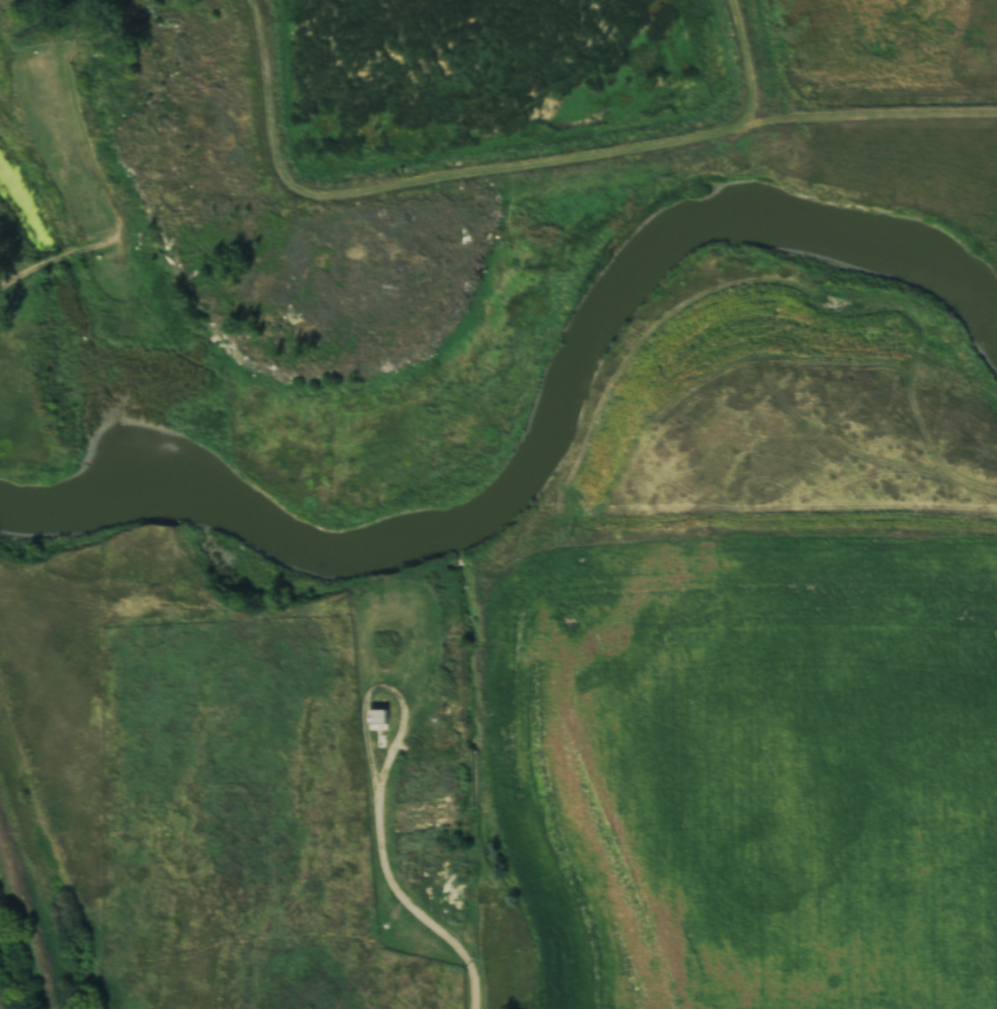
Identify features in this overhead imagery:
road: (268, 97)
river: (539, 445)
building: (376, 719)
road: (473, 939)

